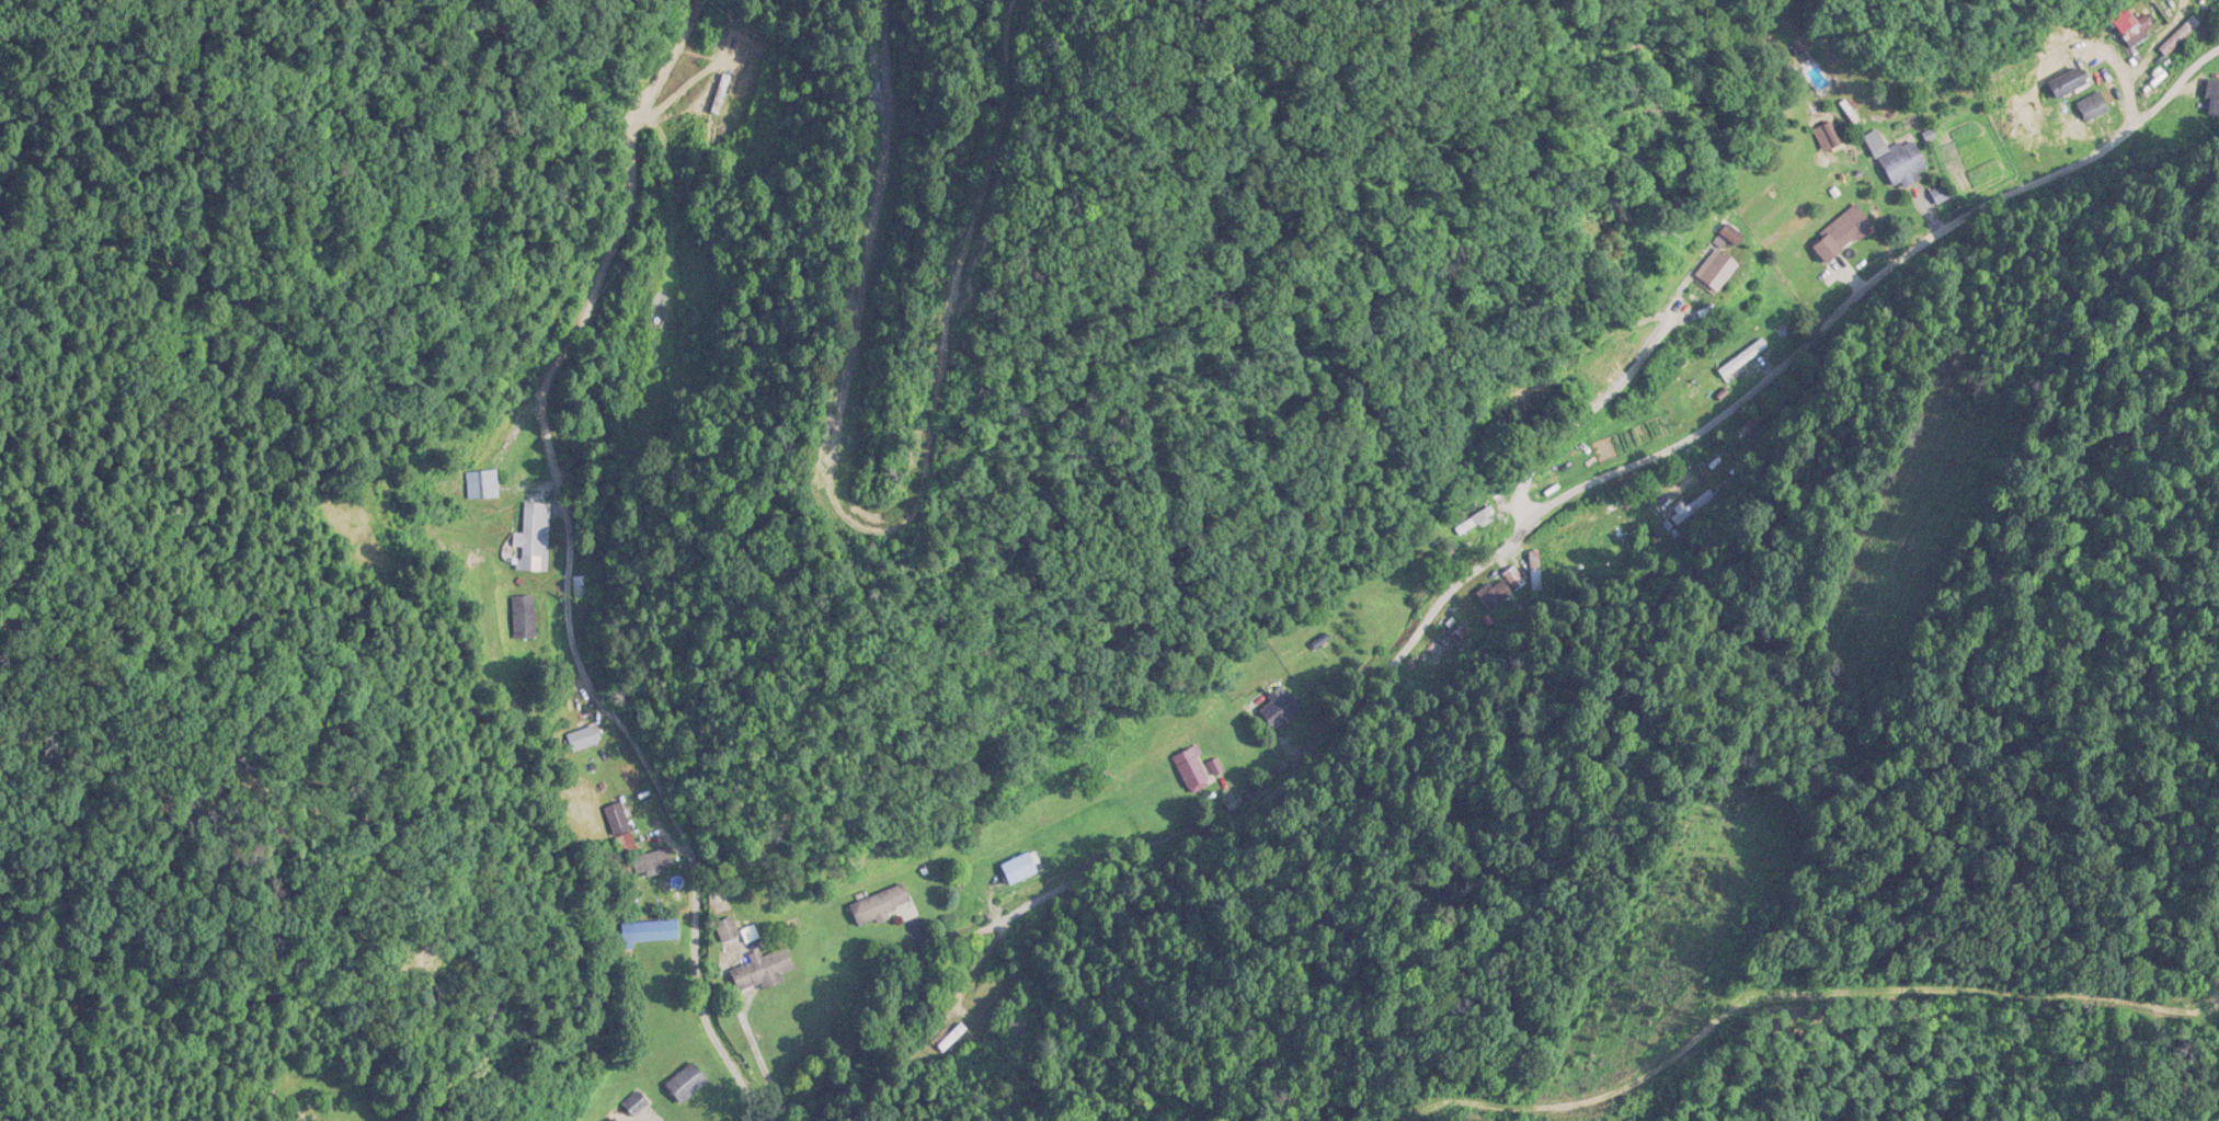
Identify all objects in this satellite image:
building: (2135, 31)
building: (2003, 76)
building: (2068, 83)
building: (2214, 101)
building: (2083, 116)
road: (2144, 122)
building: (1899, 162)
building: (1841, 235)
building: (1719, 262)
building: (1741, 358)
building: (1685, 510)
building: (1473, 519)
building: (1608, 539)
building: (1514, 580)
building: (1496, 595)
road: (1405, 639)
building: (1278, 710)
building: (1193, 769)
building: (1019, 869)
building: (644, 884)
building: (880, 906)
building: (653, 931)
building: (751, 959)
road: (705, 969)
building: (686, 1084)
building: (626, 1118)

